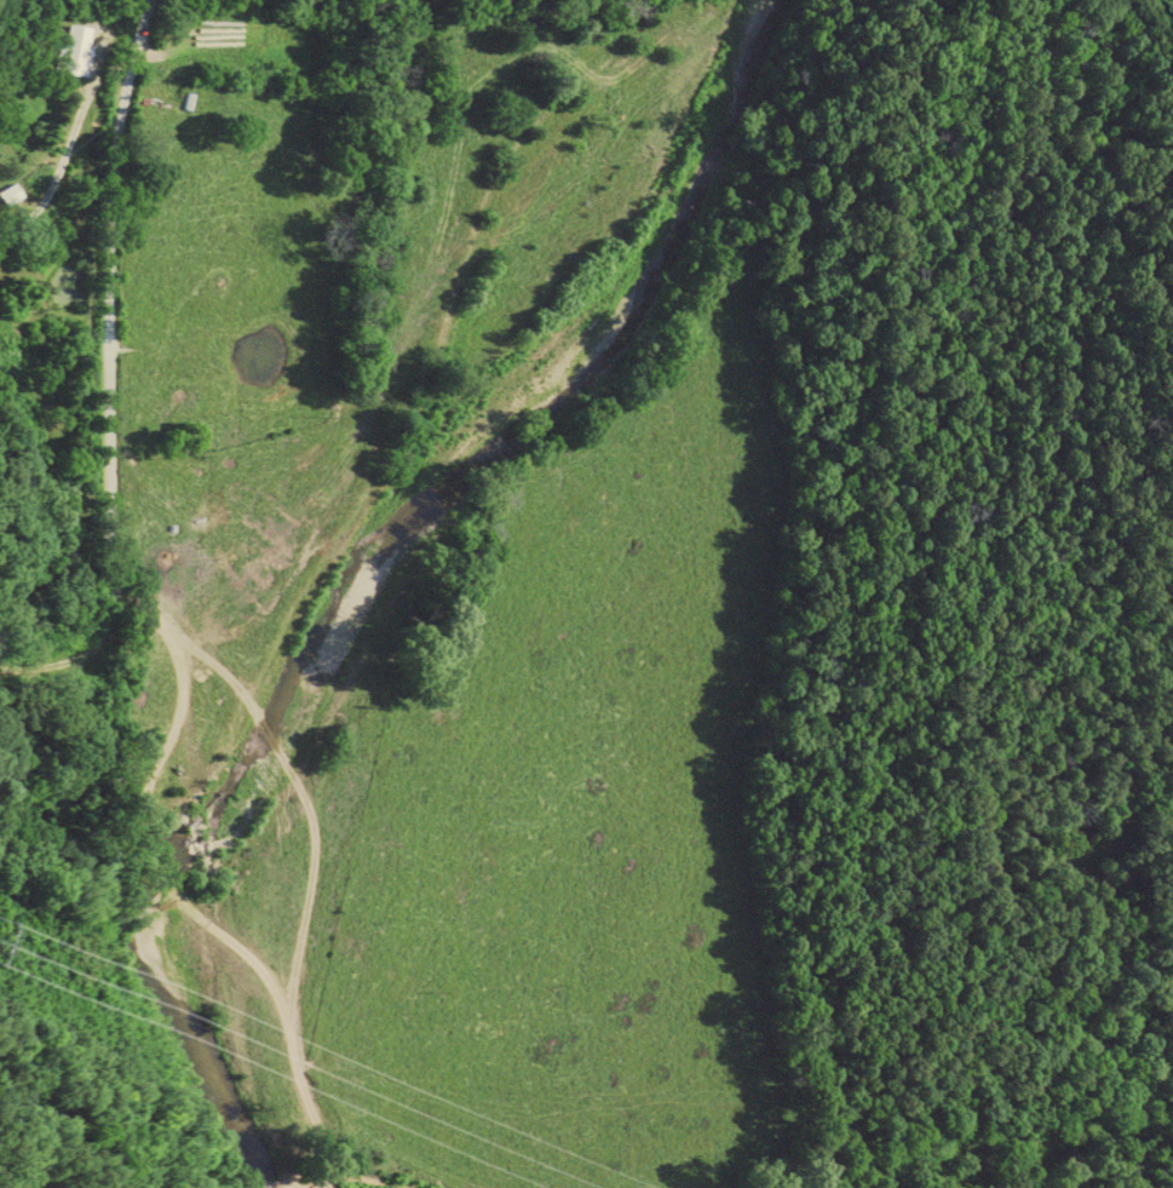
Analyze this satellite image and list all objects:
road: (137, 28)
building: (80, 51)
road: (77, 157)
road: (183, 654)
road: (87, 660)

